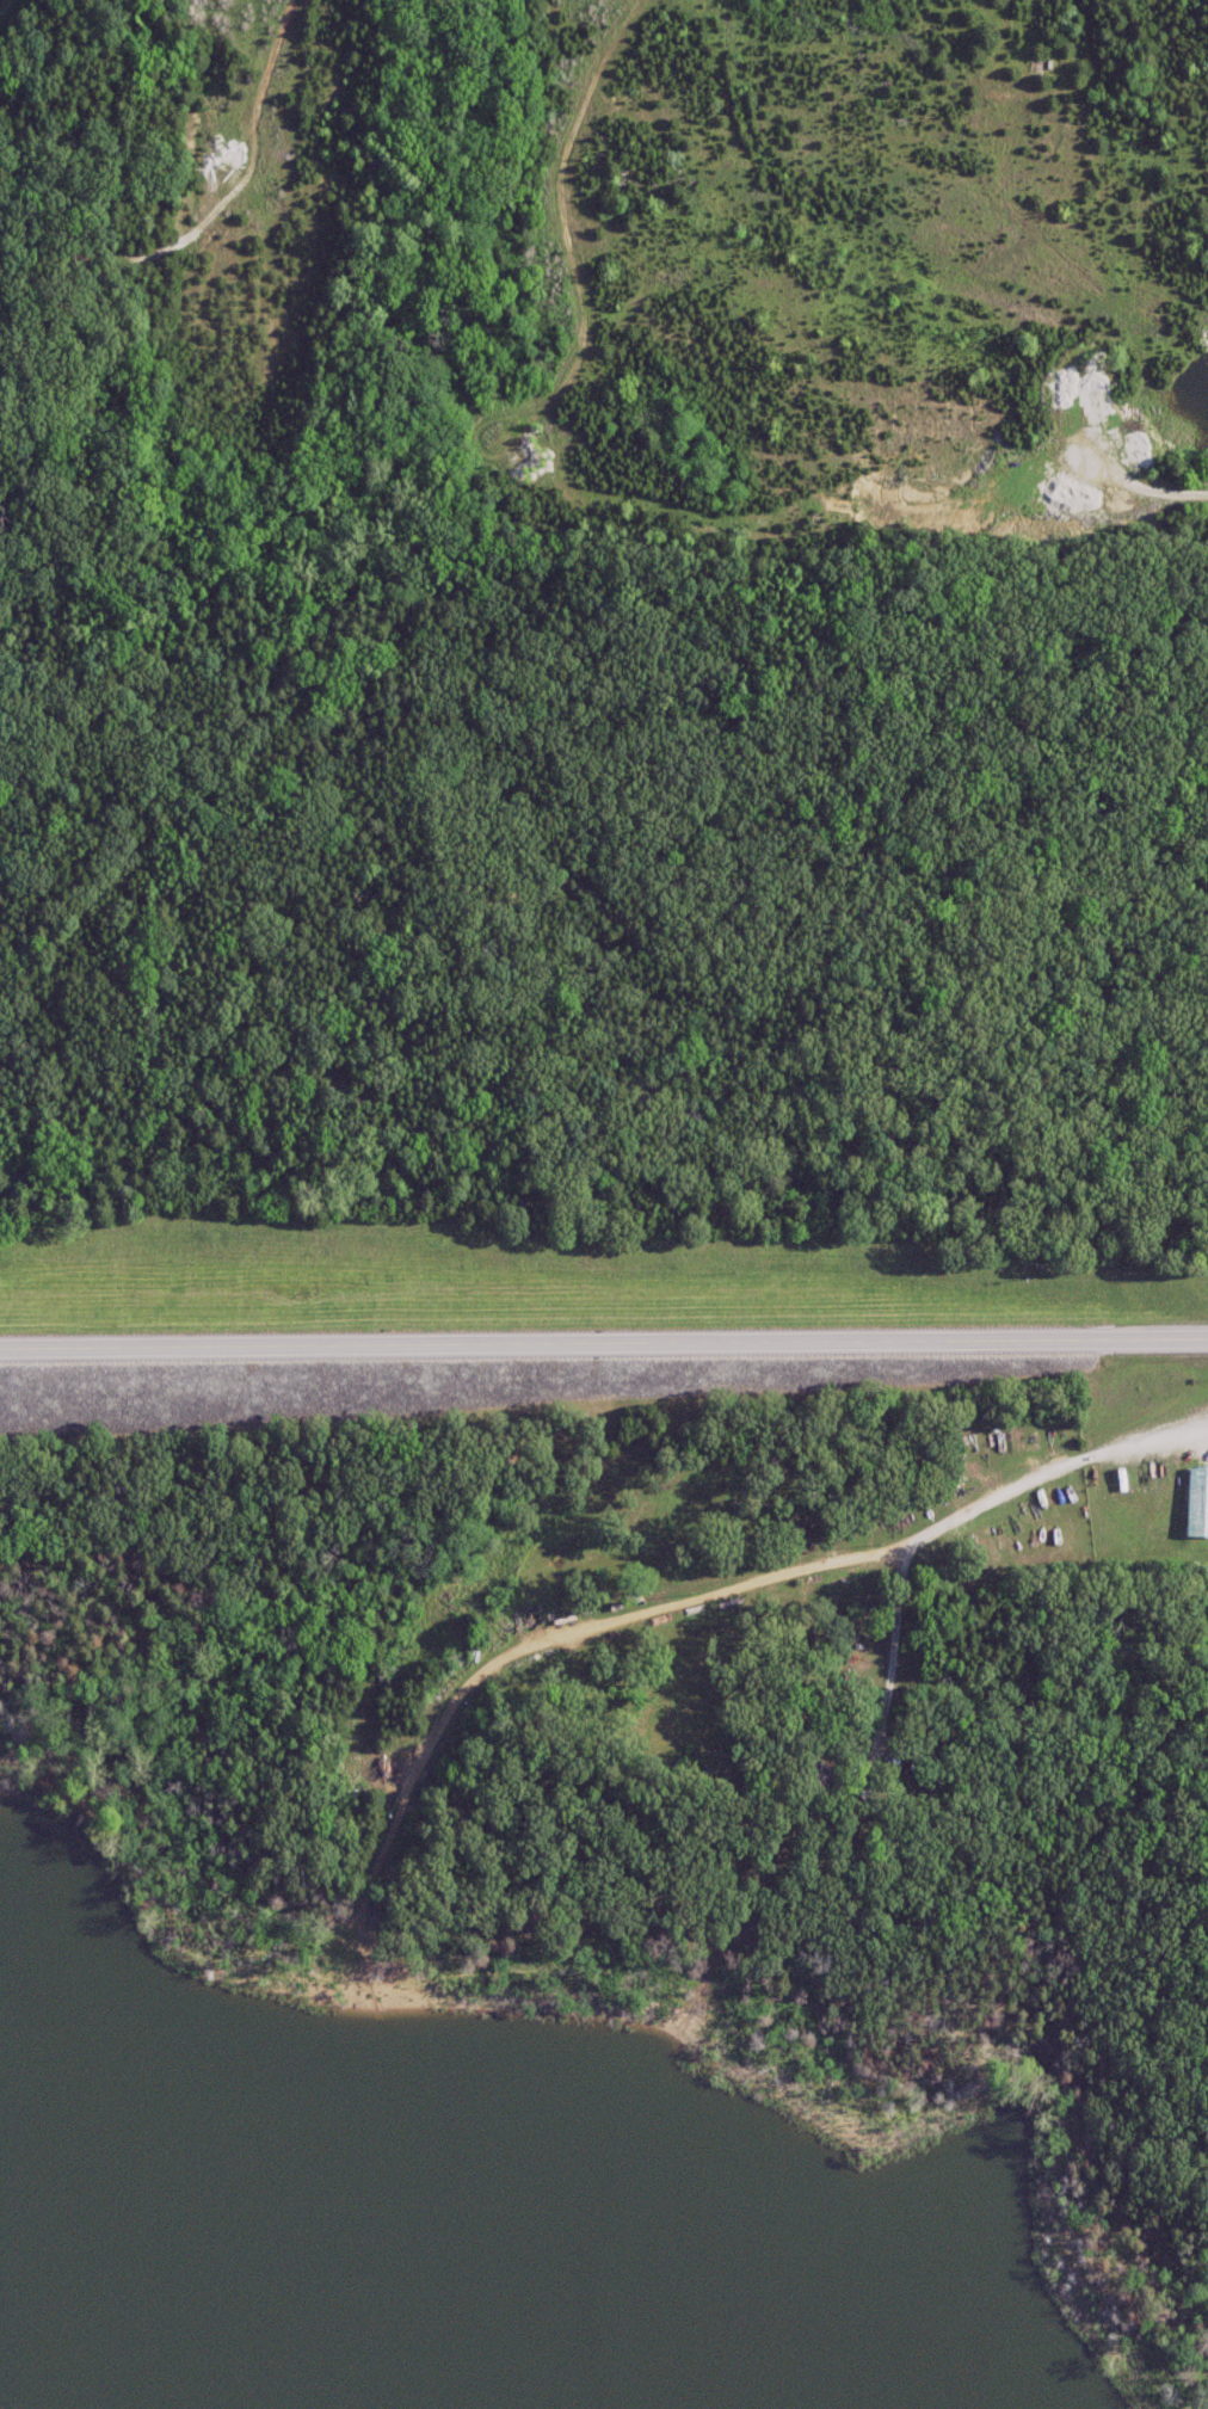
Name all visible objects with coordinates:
road: (604, 1351)
building: (1194, 1503)
building: (542, 1582)
road: (688, 1609)
road: (1158, 2329)

